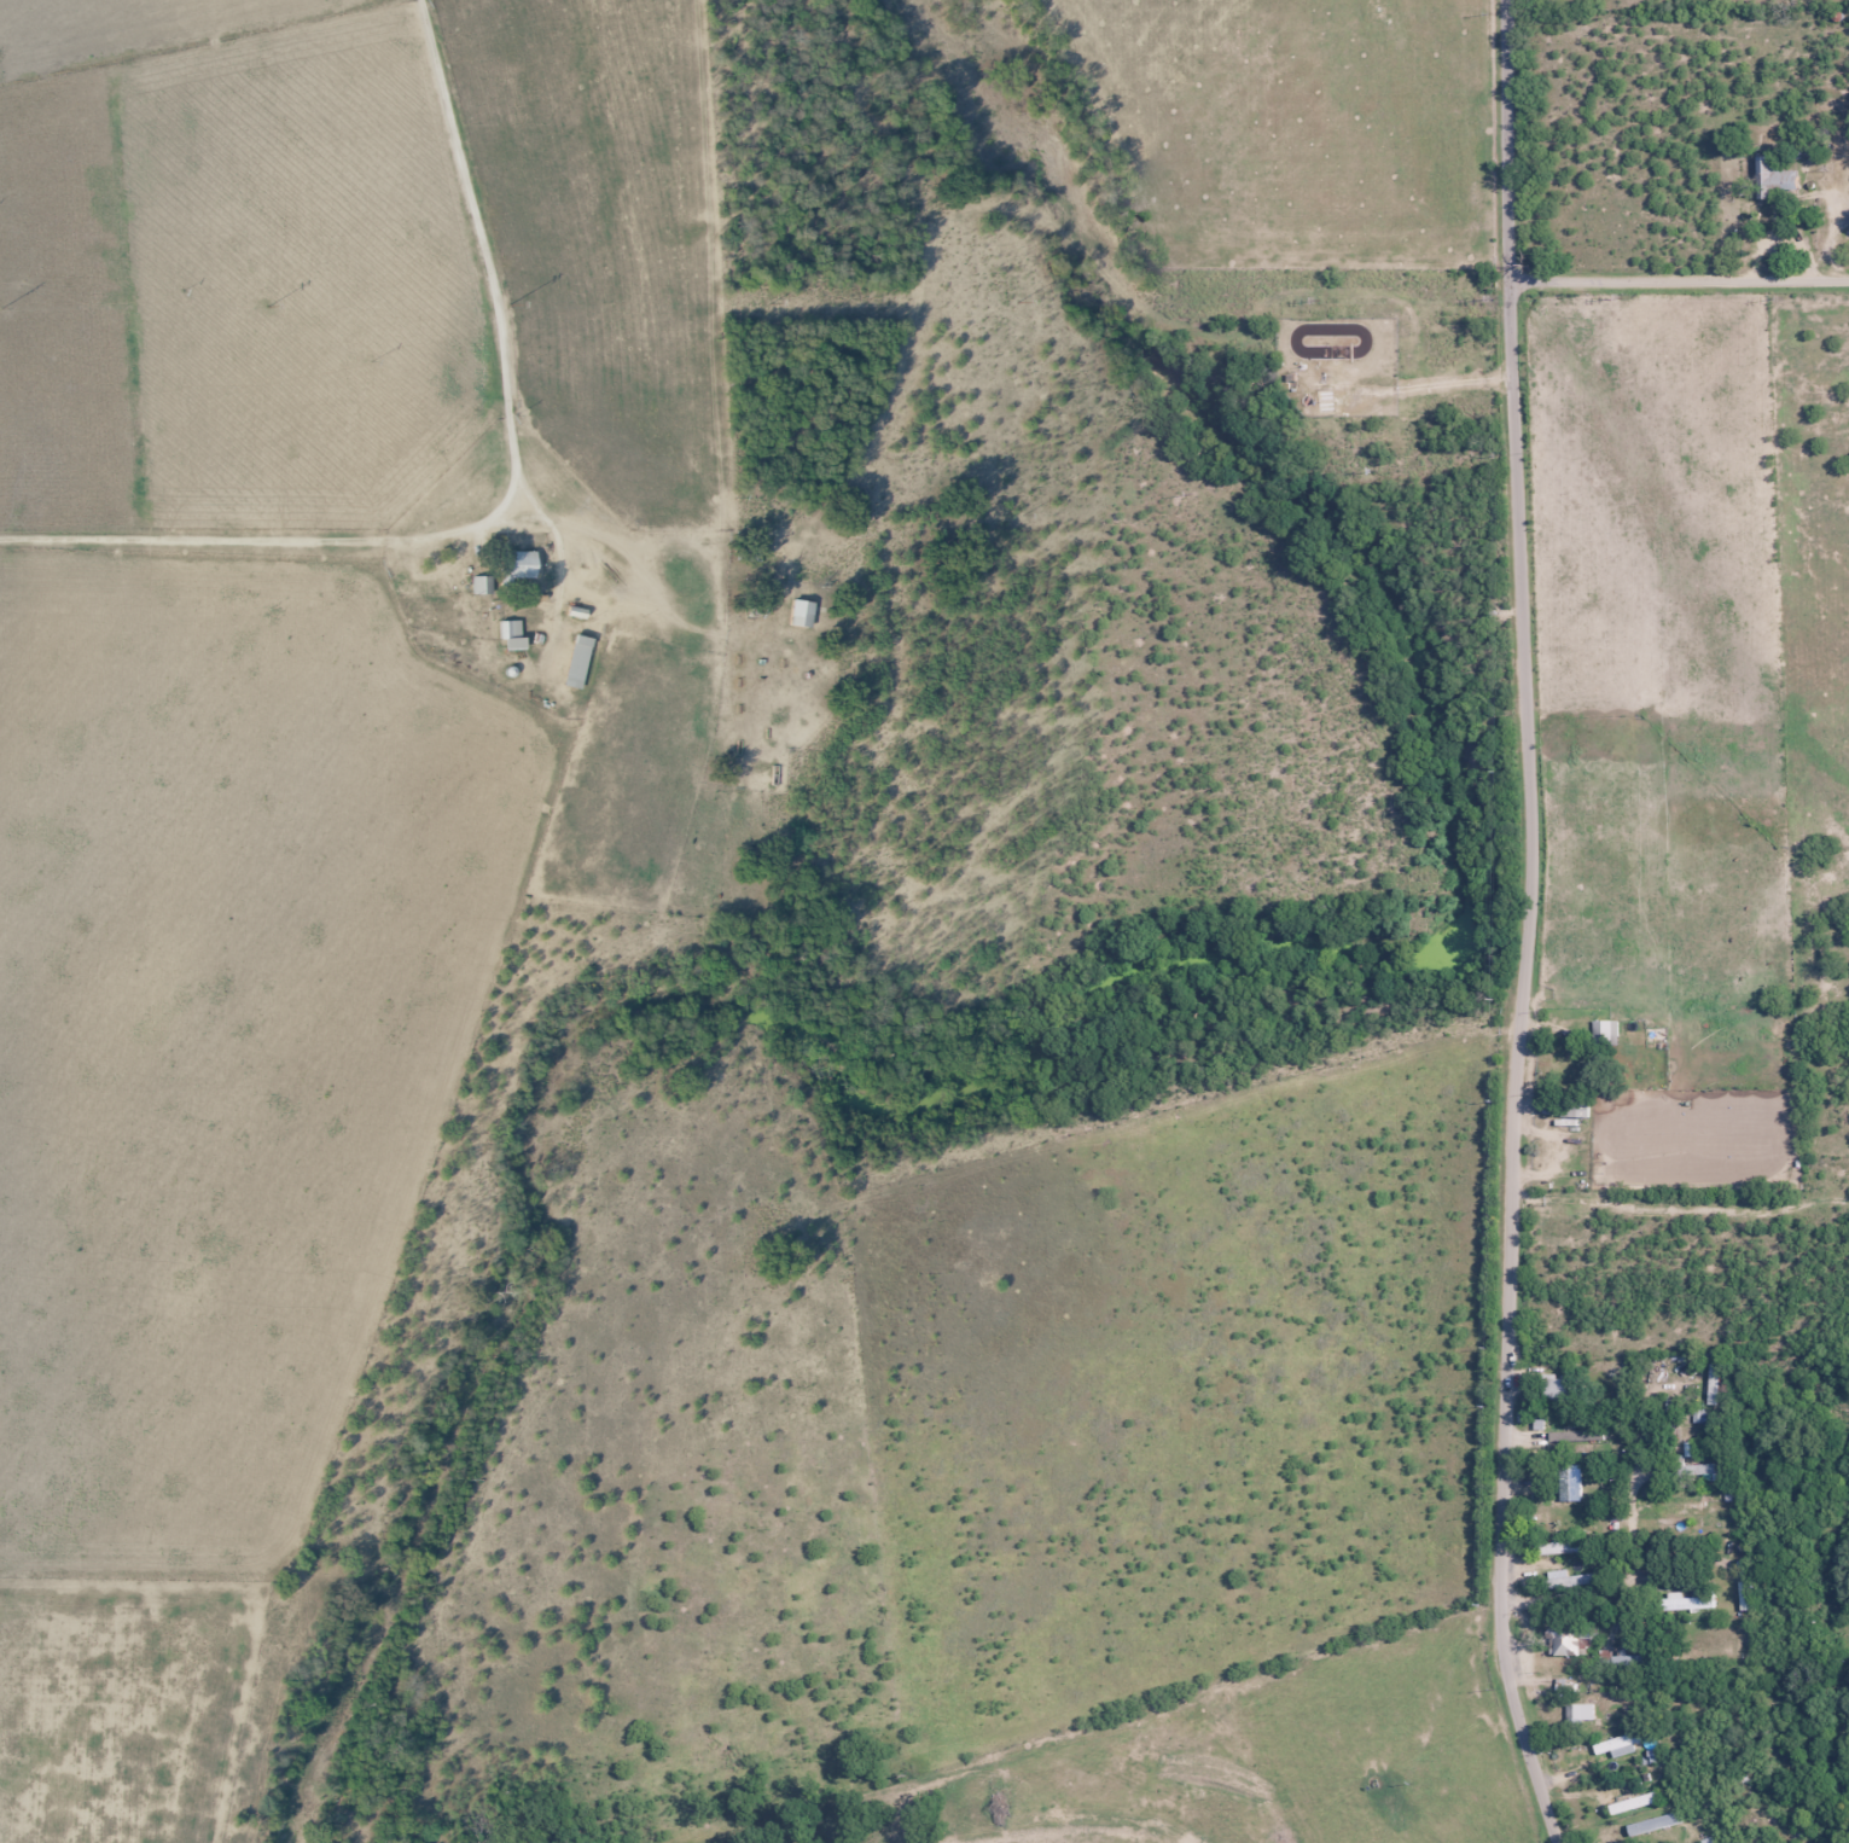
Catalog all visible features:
road: (1510, 140)
building: (1774, 179)
road: (1680, 280)
power tower: (1485, 297)
power tower: (1611, 297)
power tower: (1798, 298)
power tower: (1017, 301)
power tower: (772, 302)
power tower: (1336, 302)
power tower: (511, 303)
power tower: (268, 304)
power tower: (5, 307)
road: (511, 510)
building: (513, 564)
building: (797, 612)
building: (507, 634)
building: (572, 661)
building: (1604, 1031)
road: (1518, 1060)
building: (1554, 1388)
building: (1693, 1472)
building: (1570, 1481)
building: (1566, 1546)
building: (1569, 1639)
building: (1615, 1745)
building: (1632, 1802)
road: (1703, 1804)
road: (1556, 1838)
building: (1709, 1841)

